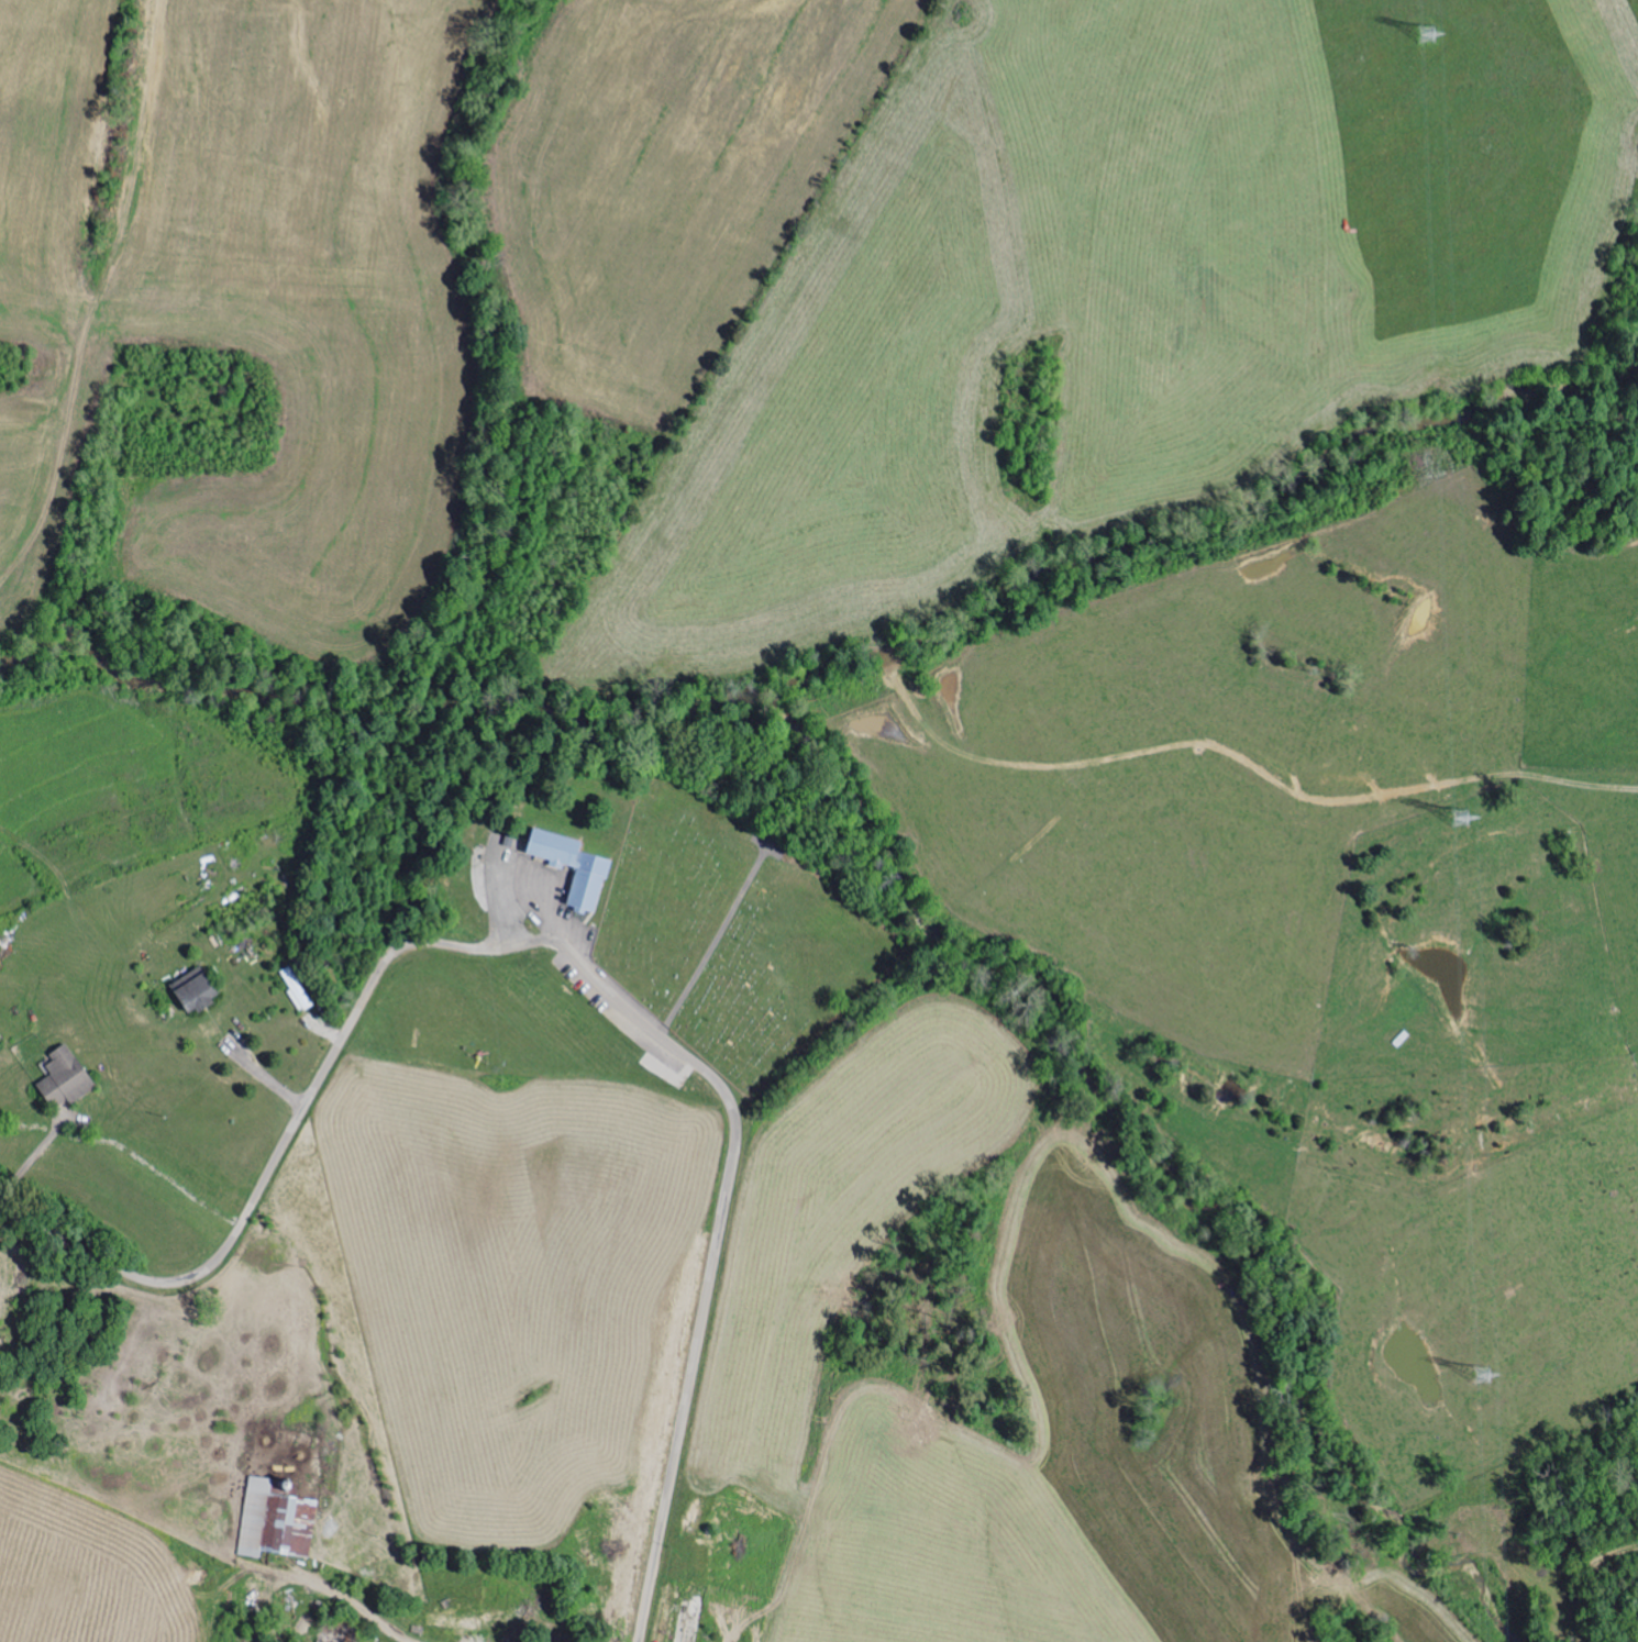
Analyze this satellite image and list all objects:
road: (135, 320)
road: (213, 709)
building: (575, 867)
road: (317, 909)
park: (732, 934)
building: (298, 989)
building: (197, 991)
road: (256, 1068)
building: (66, 1078)
road: (289, 1136)
road: (34, 1154)
road: (727, 1161)
road: (88, 1247)
building: (277, 1520)
building: (456, 1621)

